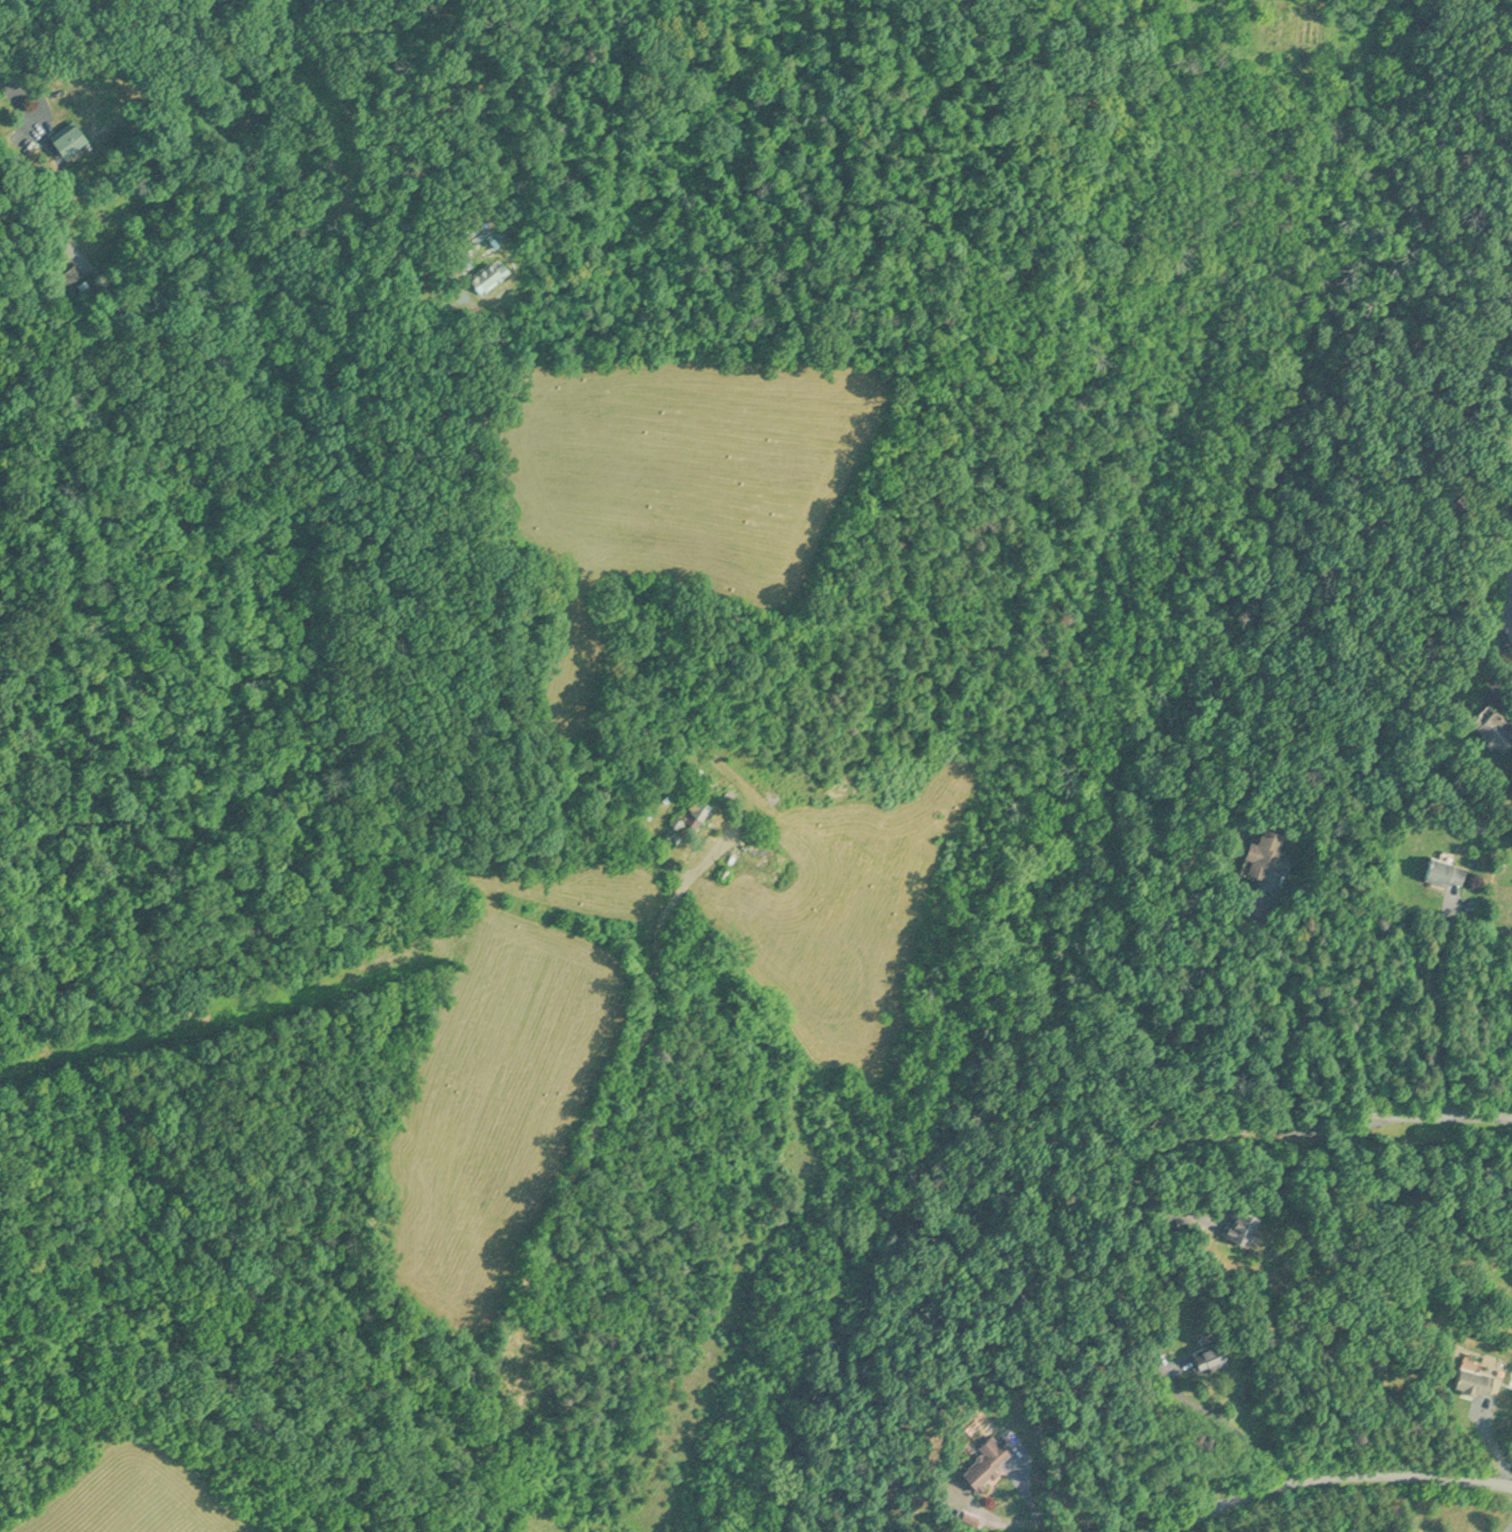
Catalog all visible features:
road: (10, 79)
road: (1503, 615)
road: (1224, 986)
road: (1430, 1003)
road: (1440, 1117)
road: (1206, 1130)
road: (1224, 1421)
road: (1335, 1473)
road: (1030, 1515)
road: (1506, 1525)

